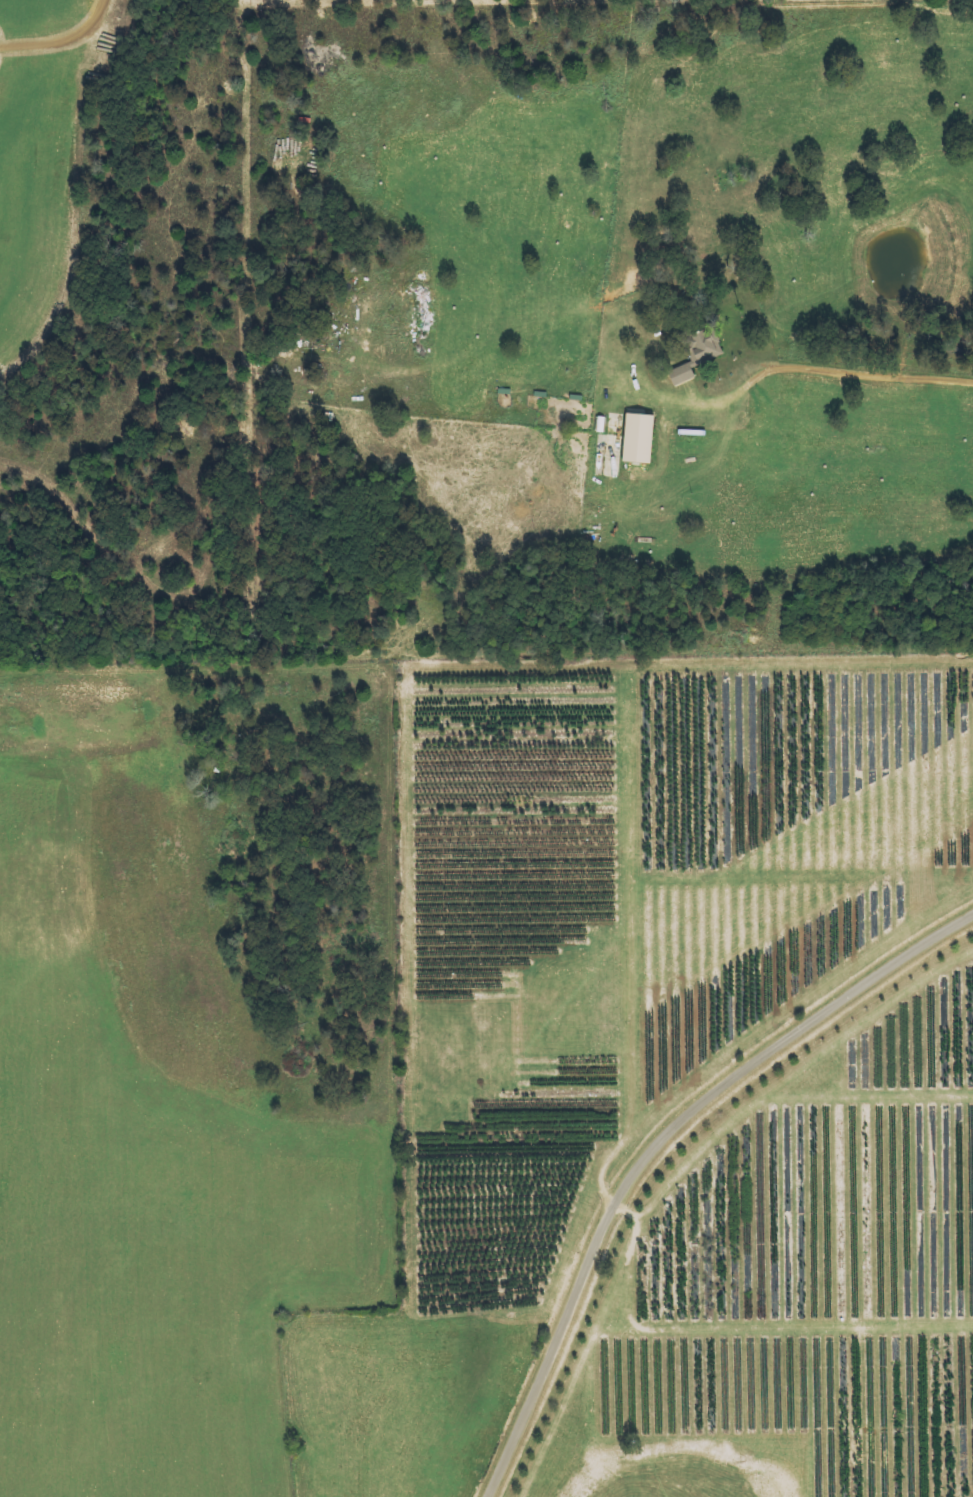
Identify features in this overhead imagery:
building: (697, 356)
building: (640, 438)
road: (657, 1145)

